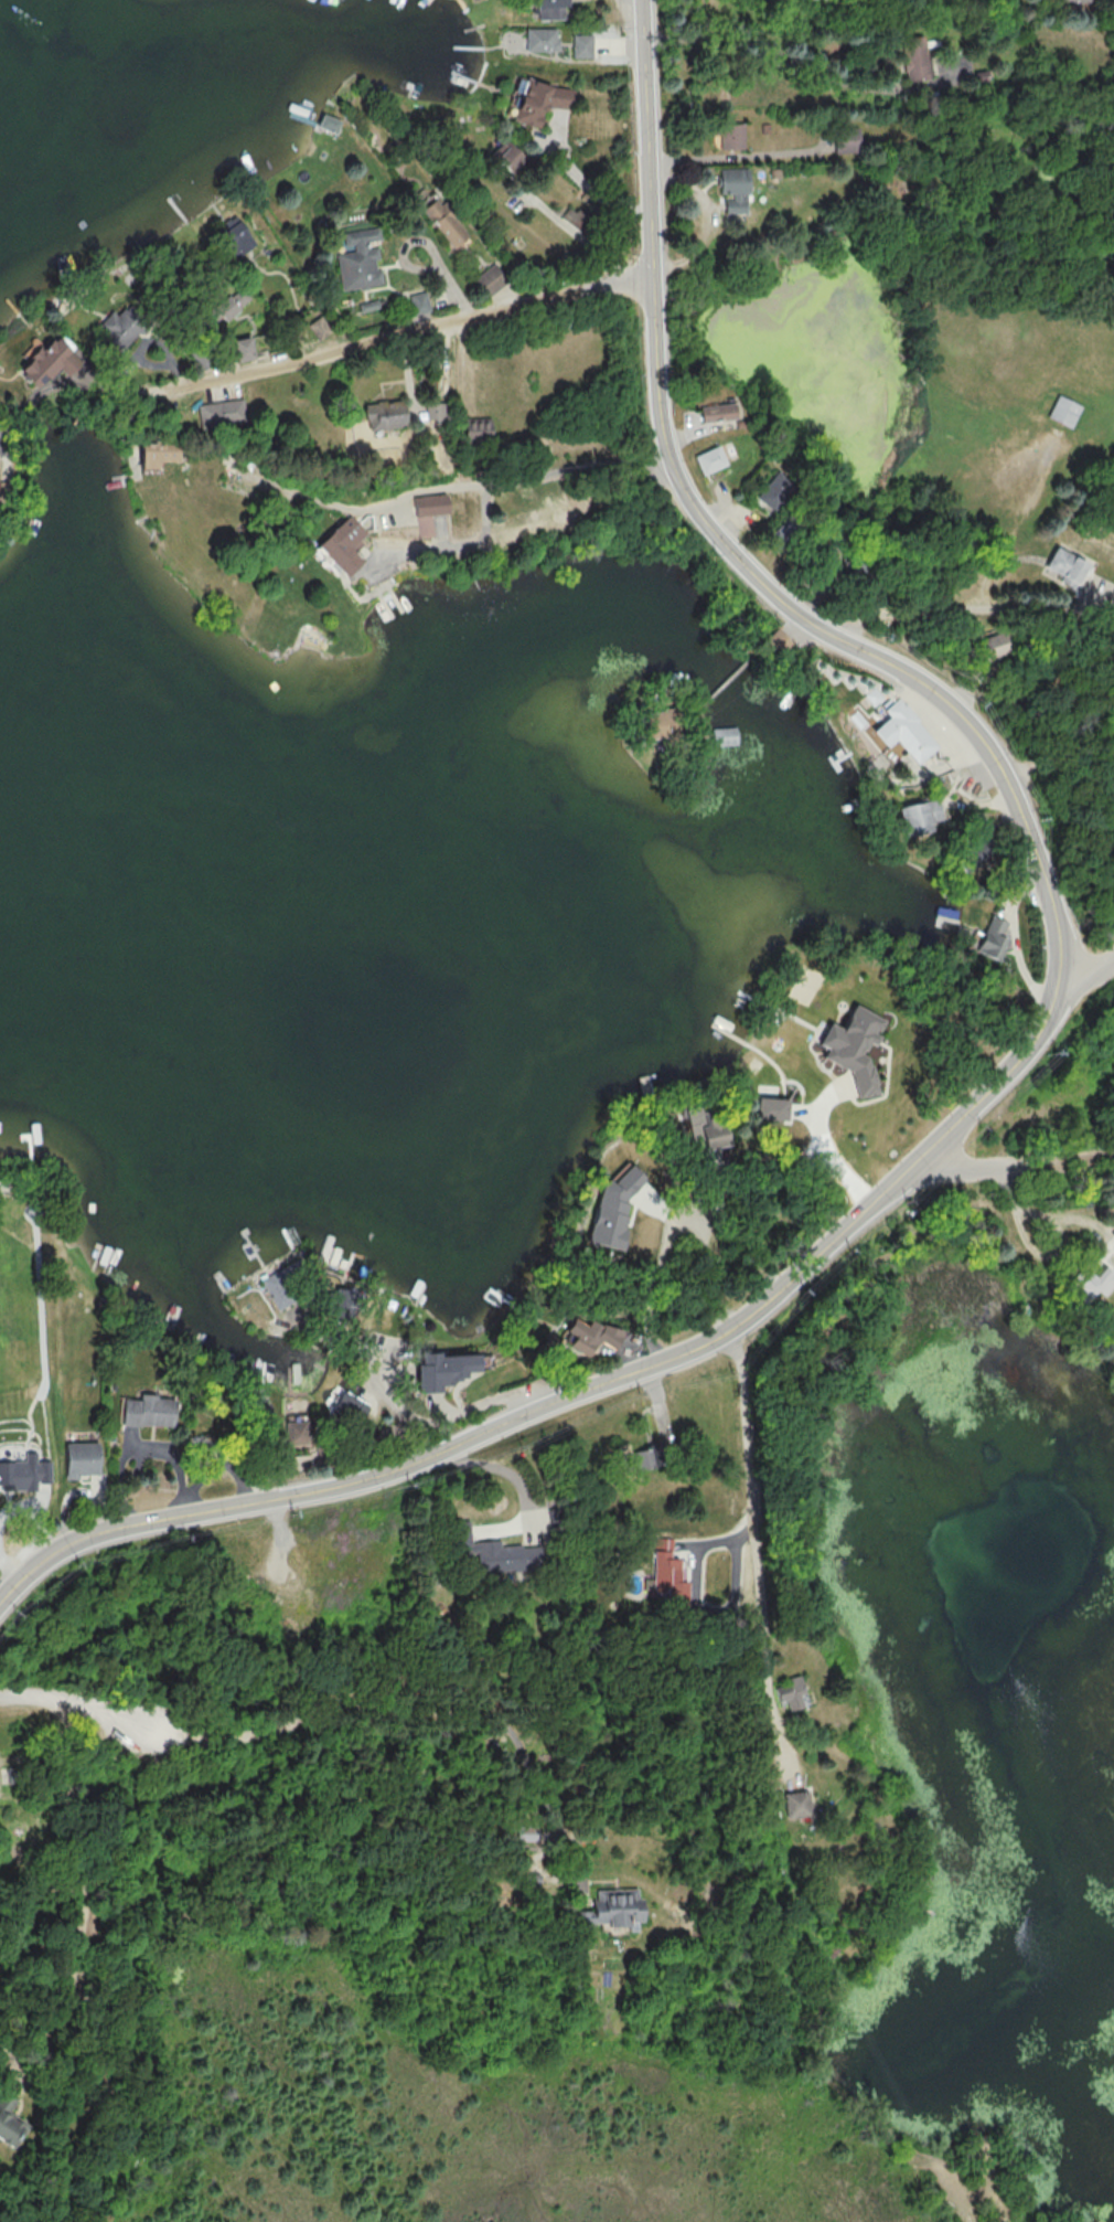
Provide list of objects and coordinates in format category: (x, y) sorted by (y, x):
building: (1063, 1)
building: (550, 9)
road: (740, 34)
building: (542, 39)
building: (933, 42)
building: (582, 44)
building: (915, 57)
building: (982, 75)
building: (540, 100)
building: (328, 123)
building: (764, 127)
building: (730, 135)
building: (847, 139)
building: (507, 155)
road: (729, 157)
road: (587, 187)
building: (736, 187)
building: (576, 217)
building: (447, 223)
building: (235, 235)
road: (425, 242)
building: (358, 262)
building: (491, 279)
building: (418, 301)
building: (232, 302)
building: (369, 304)
building: (117, 327)
building: (319, 328)
road: (150, 337)
building: (244, 349)
road: (313, 357)
building: (46, 361)
road: (151, 364)
road: (446, 364)
building: (432, 410)
building: (1067, 411)
building: (718, 412)
building: (383, 413)
building: (222, 416)
building: (479, 426)
building: (157, 453)
building: (708, 459)
road: (457, 485)
building: (772, 489)
building: (426, 510)
building: (343, 547)
building: (1064, 566)
road: (934, 610)
building: (772, 641)
building: (994, 645)
road: (846, 649)
road: (725, 681)
building: (874, 697)
building: (663, 723)
building: (907, 731)
building: (725, 735)
building: (920, 816)
building: (992, 939)
road: (1091, 982)
building: (850, 1045)
building: (771, 1107)
building: (705, 1130)
road: (825, 1145)
pier: (30, 1148)
road: (1014, 1170)
building: (613, 1201)
road: (865, 1210)
pier: (245, 1230)
pier: (287, 1237)
pier: (254, 1246)
road: (703, 1247)
pier: (253, 1248)
pier: (97, 1254)
pier: (329, 1254)
pier: (350, 1257)
pier: (107, 1262)
pier: (338, 1263)
pier: (331, 1264)
pier: (222, 1279)
building: (289, 1284)
building: (1093, 1285)
pier: (420, 1293)
pier: (502, 1296)
building: (343, 1303)
pier: (174, 1316)
road: (718, 1332)
building: (591, 1335)
pier: (196, 1340)
pier: (322, 1365)
building: (443, 1368)
pier: (255, 1369)
pier: (265, 1372)
road: (378, 1378)
pier: (291, 1380)
road: (543, 1392)
building: (351, 1408)
building: (151, 1412)
building: (264, 1416)
road: (428, 1425)
building: (300, 1431)
building: (656, 1454)
building: (78, 1457)
building: (21, 1474)
road: (269, 1498)
road: (758, 1539)
road: (706, 1546)
building: (491, 1556)
building: (792, 1691)
road: (77, 1698)
road: (411, 1711)
building: (796, 1806)
building: (526, 1832)
road: (82, 1890)
building: (608, 1910)
building: (9, 2126)

